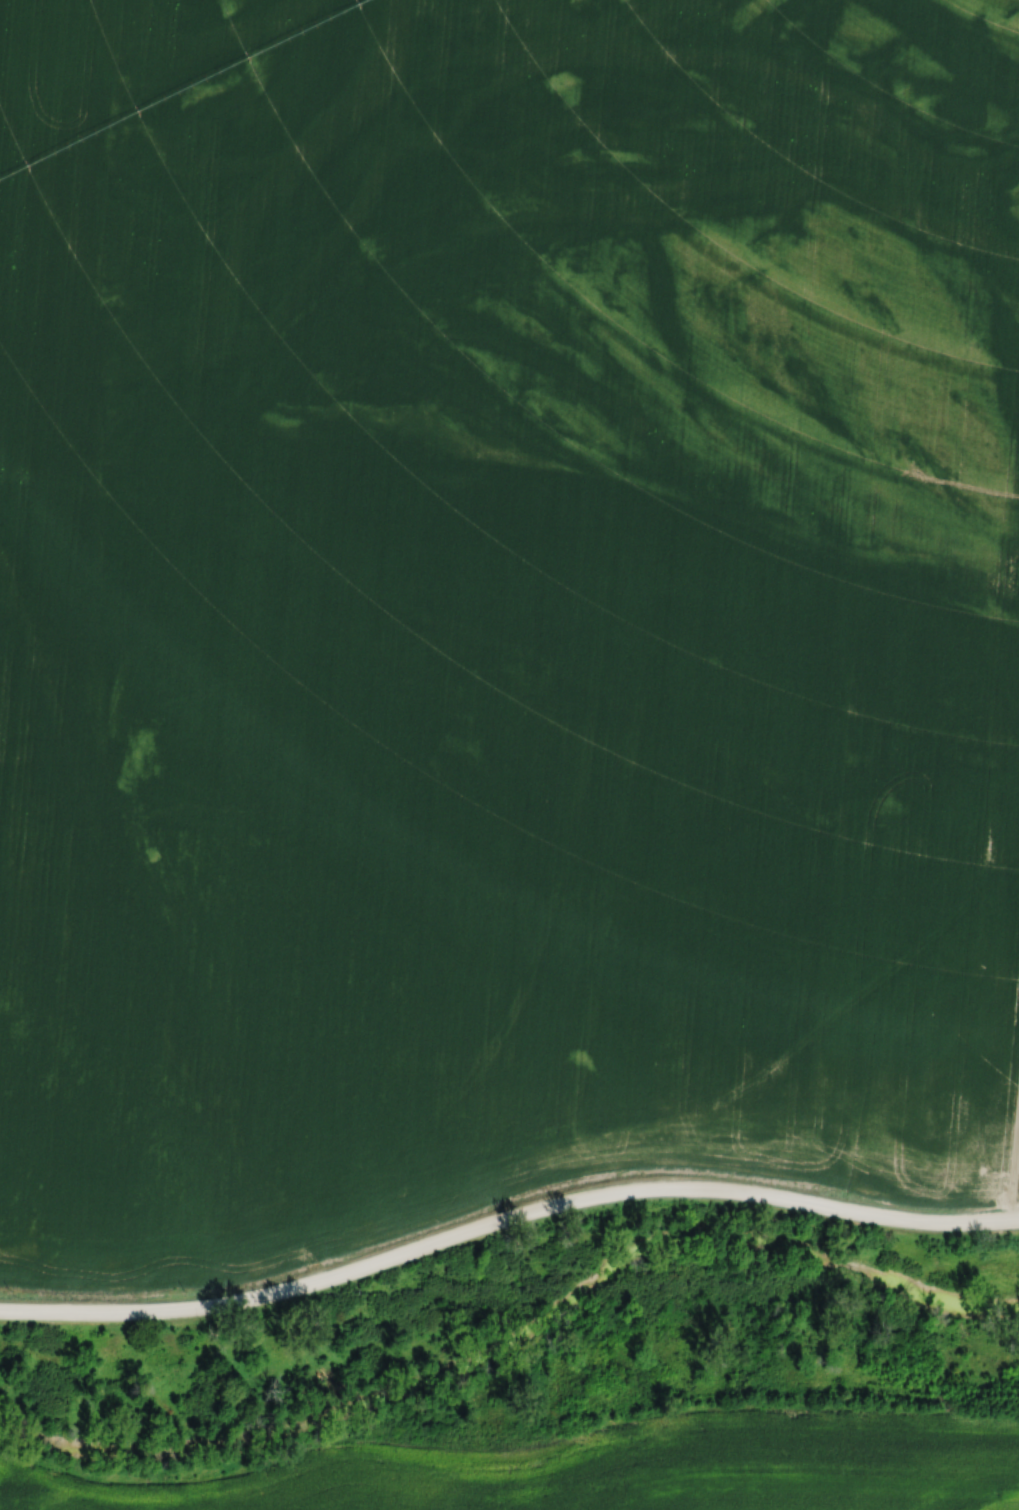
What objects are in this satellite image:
road: (506, 1224)

